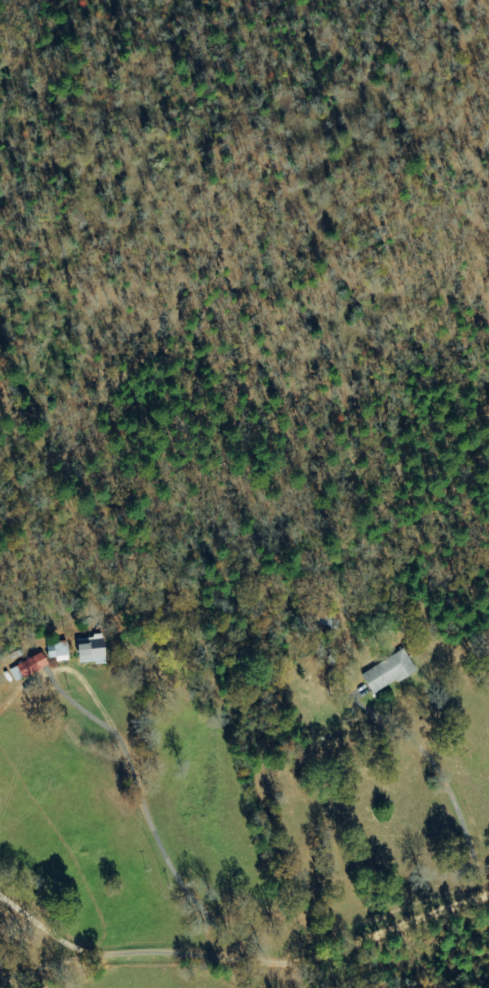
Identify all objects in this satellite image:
building: (96, 650)
building: (59, 652)
building: (30, 667)
building: (388, 672)
road: (241, 961)

